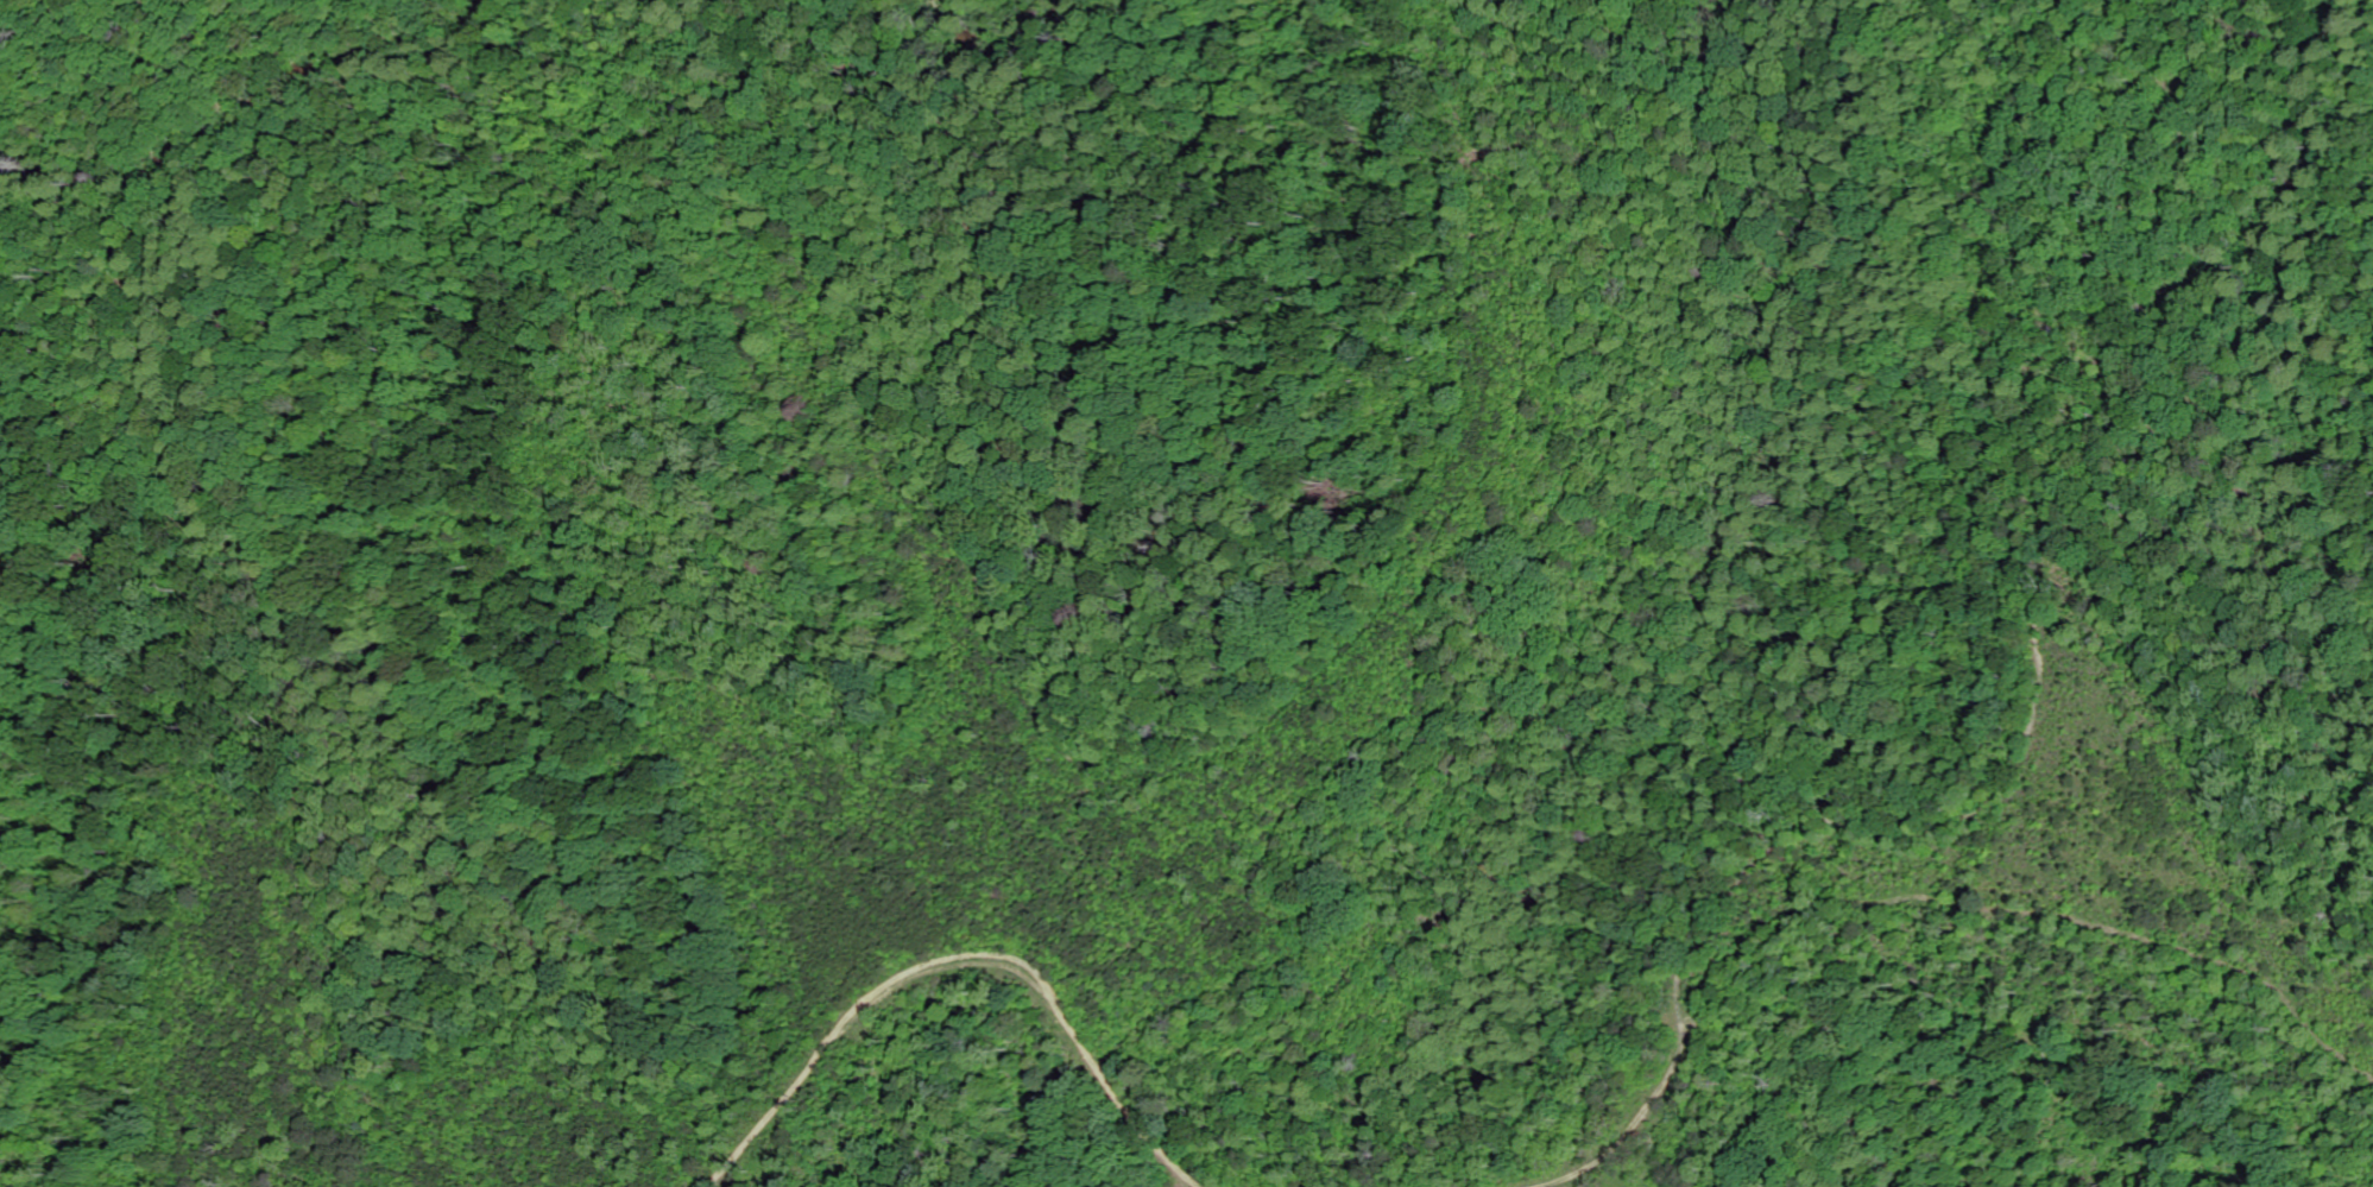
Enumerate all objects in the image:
road: (834, 1033)

